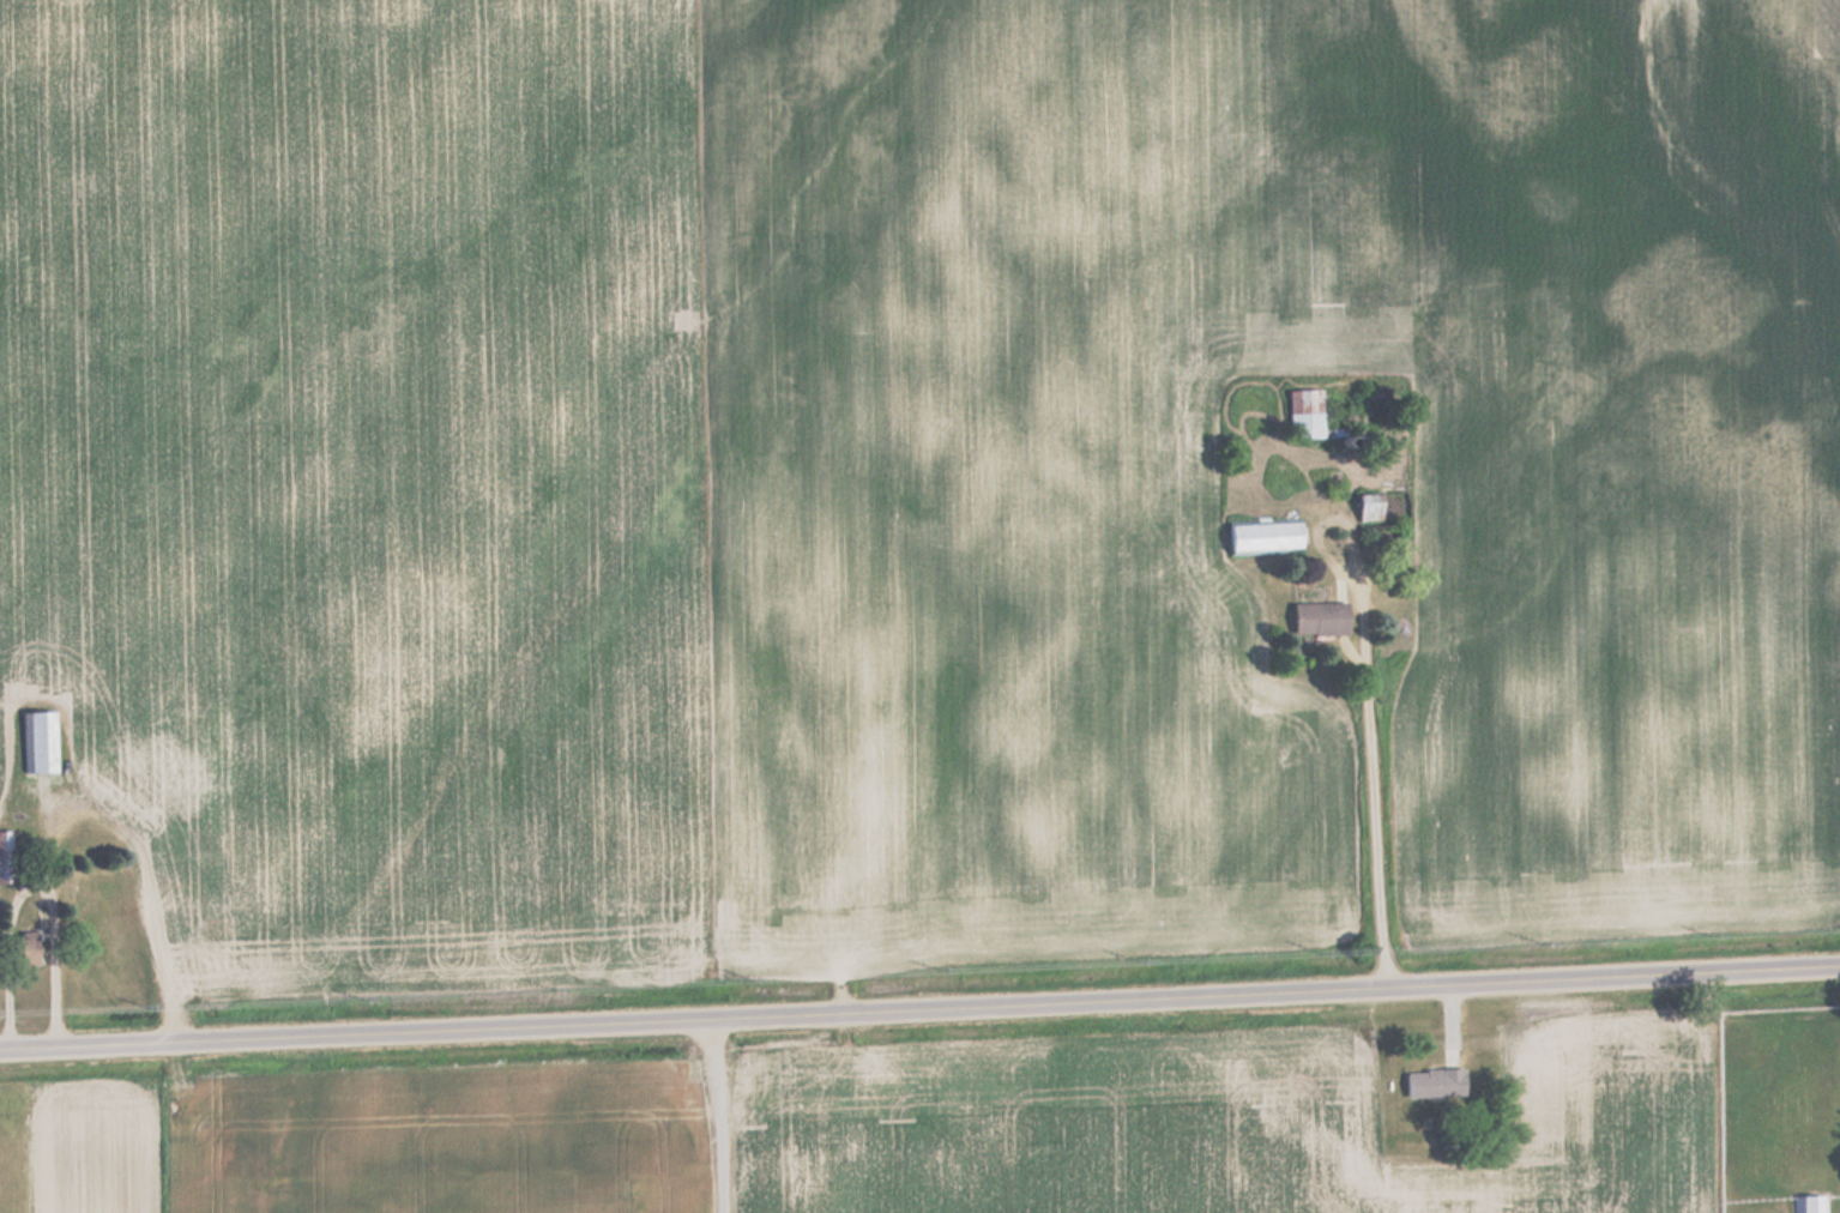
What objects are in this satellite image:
building: (1303, 415)
building: (1363, 506)
building: (1261, 535)
building: (1315, 617)
building: (41, 741)
building: (134, 772)
building: (4, 856)
building: (17, 949)
road: (919, 1003)
building: (1430, 1081)
road: (714, 1112)
building: (1810, 1202)

